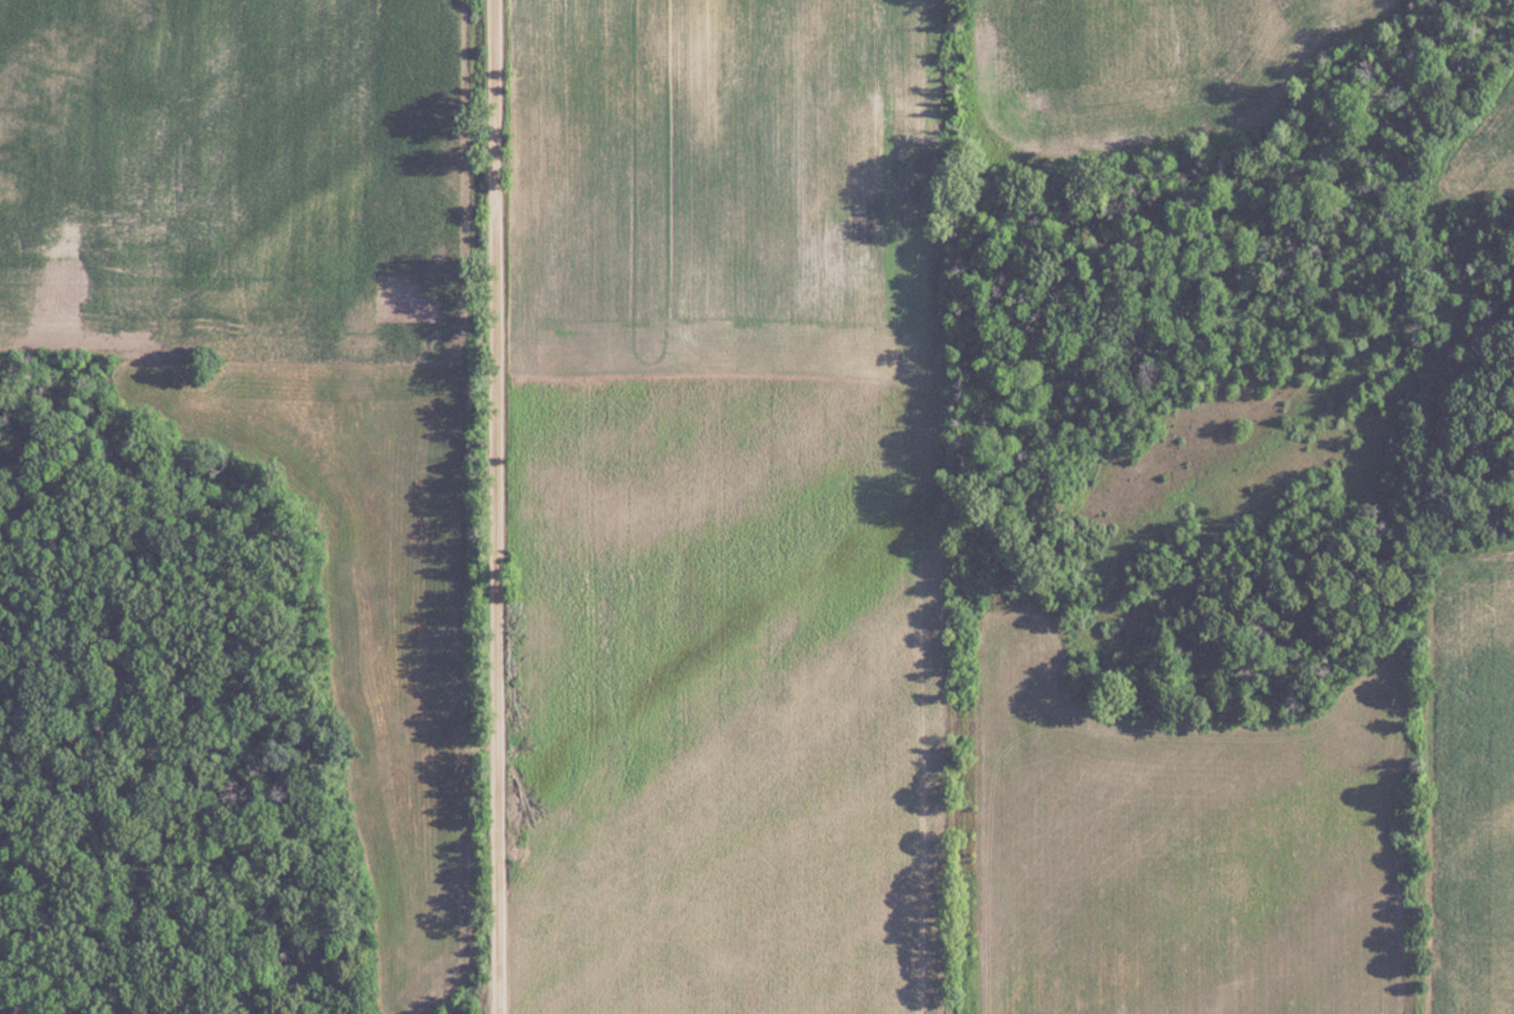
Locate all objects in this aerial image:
road: (499, 506)

